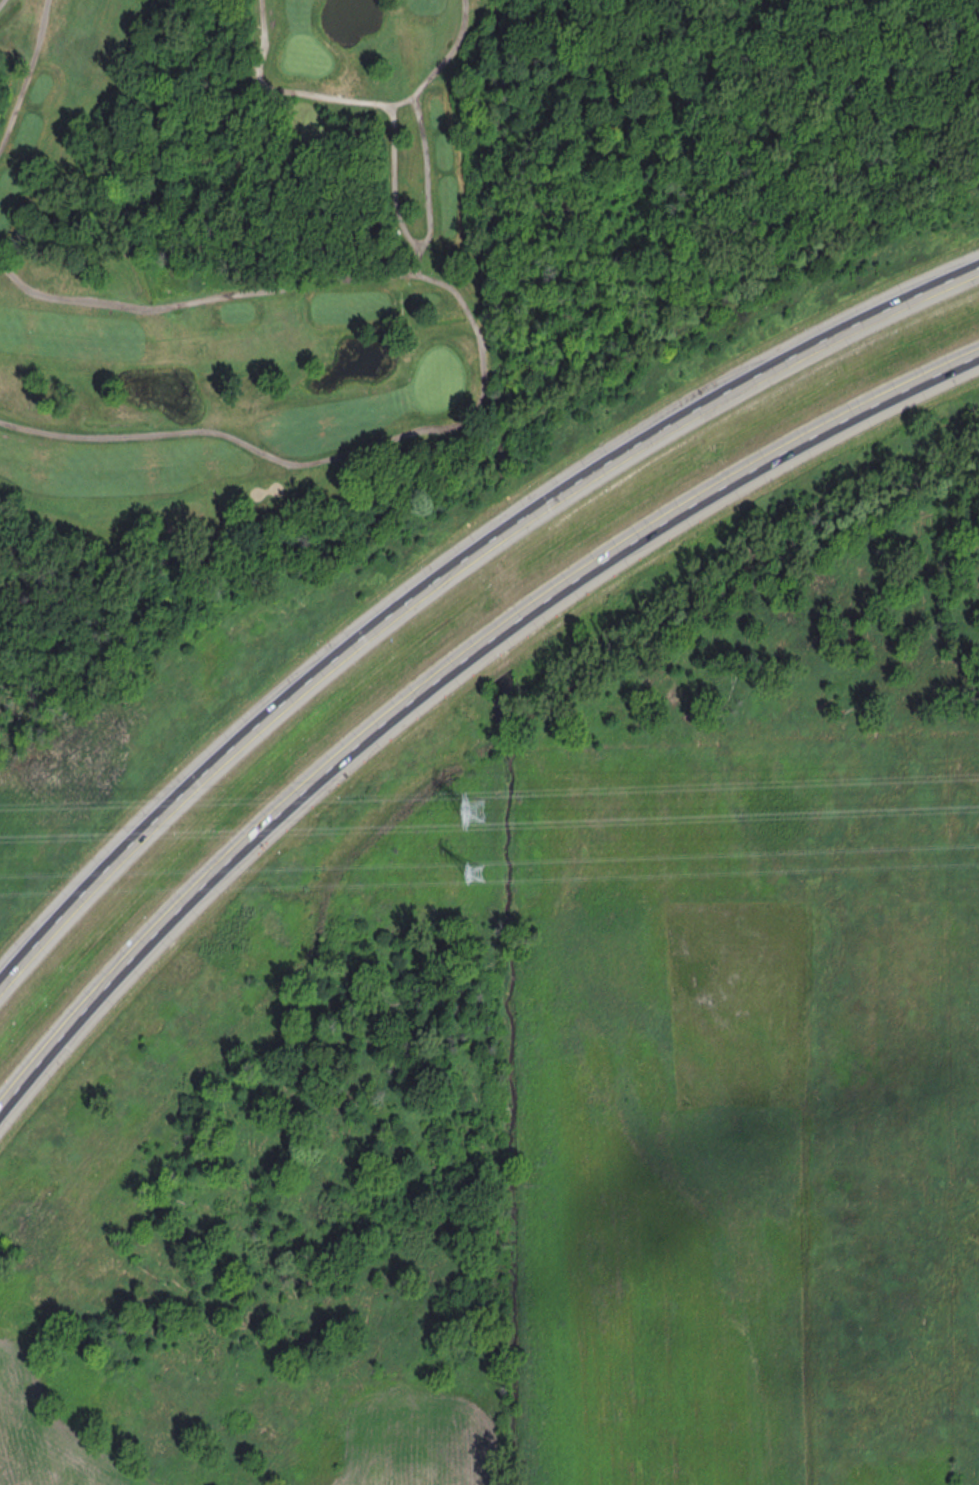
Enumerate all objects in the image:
road: (1, 1)
road: (450, 53)
road: (30, 73)
road: (424, 158)
park: (243, 267)
road: (203, 300)
road: (483, 379)
road: (448, 573)
road: (445, 677)
power tower: (475, 809)
power tower: (475, 871)

